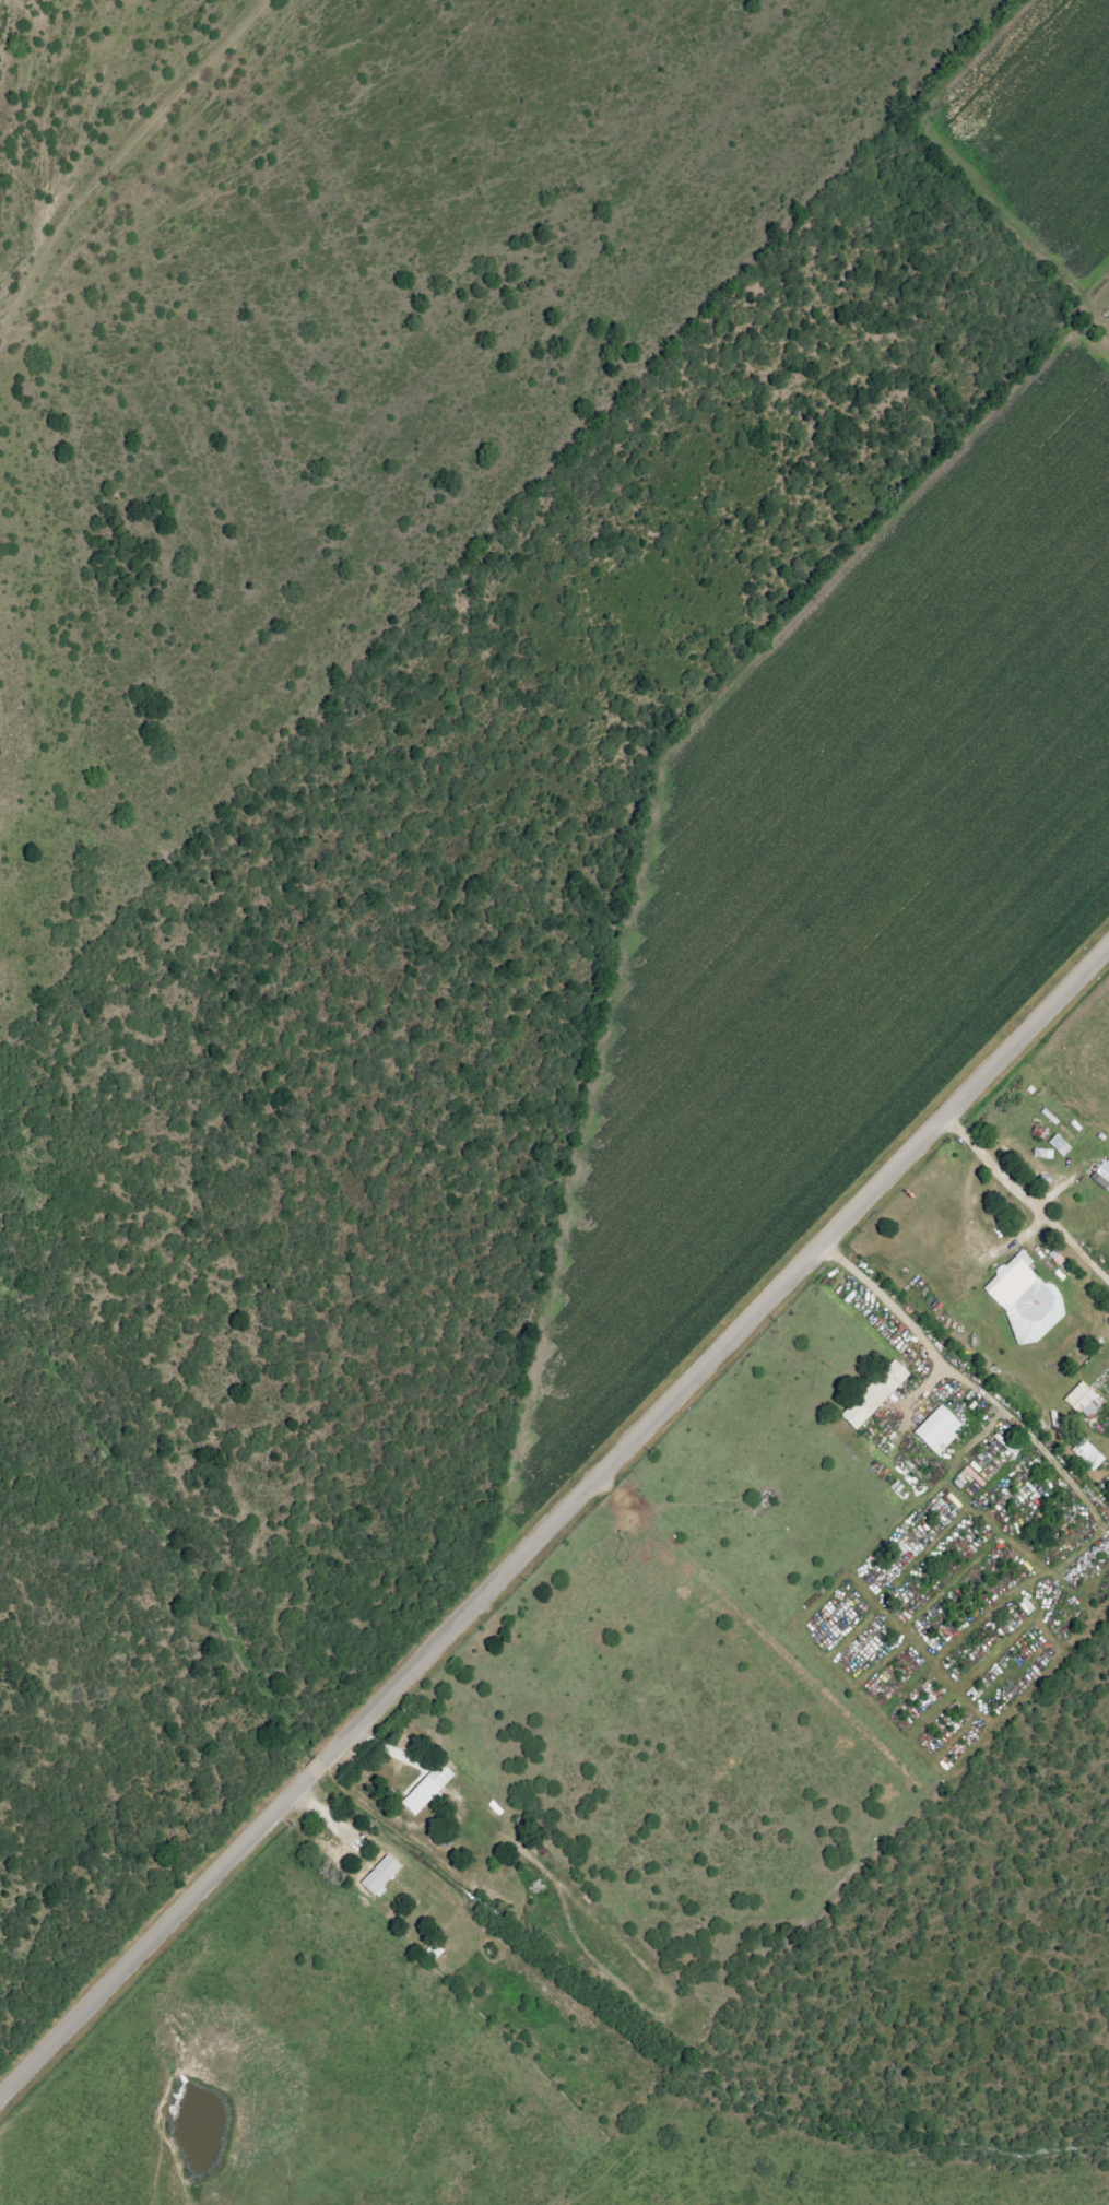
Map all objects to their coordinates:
building: (1059, 1145)
building: (1101, 1174)
road: (1027, 1202)
building: (1025, 1300)
road: (888, 1305)
building: (874, 1395)
building: (1082, 1400)
building: (937, 1430)
building: (1087, 1454)
road: (555, 1526)
building: (426, 1790)
building: (379, 1874)

